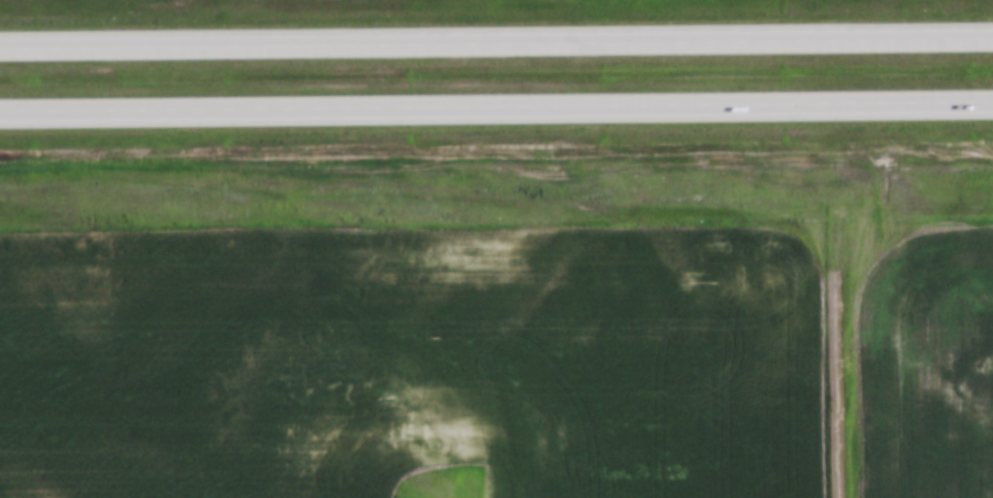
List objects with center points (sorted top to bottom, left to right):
road: (496, 37)
road: (496, 108)

